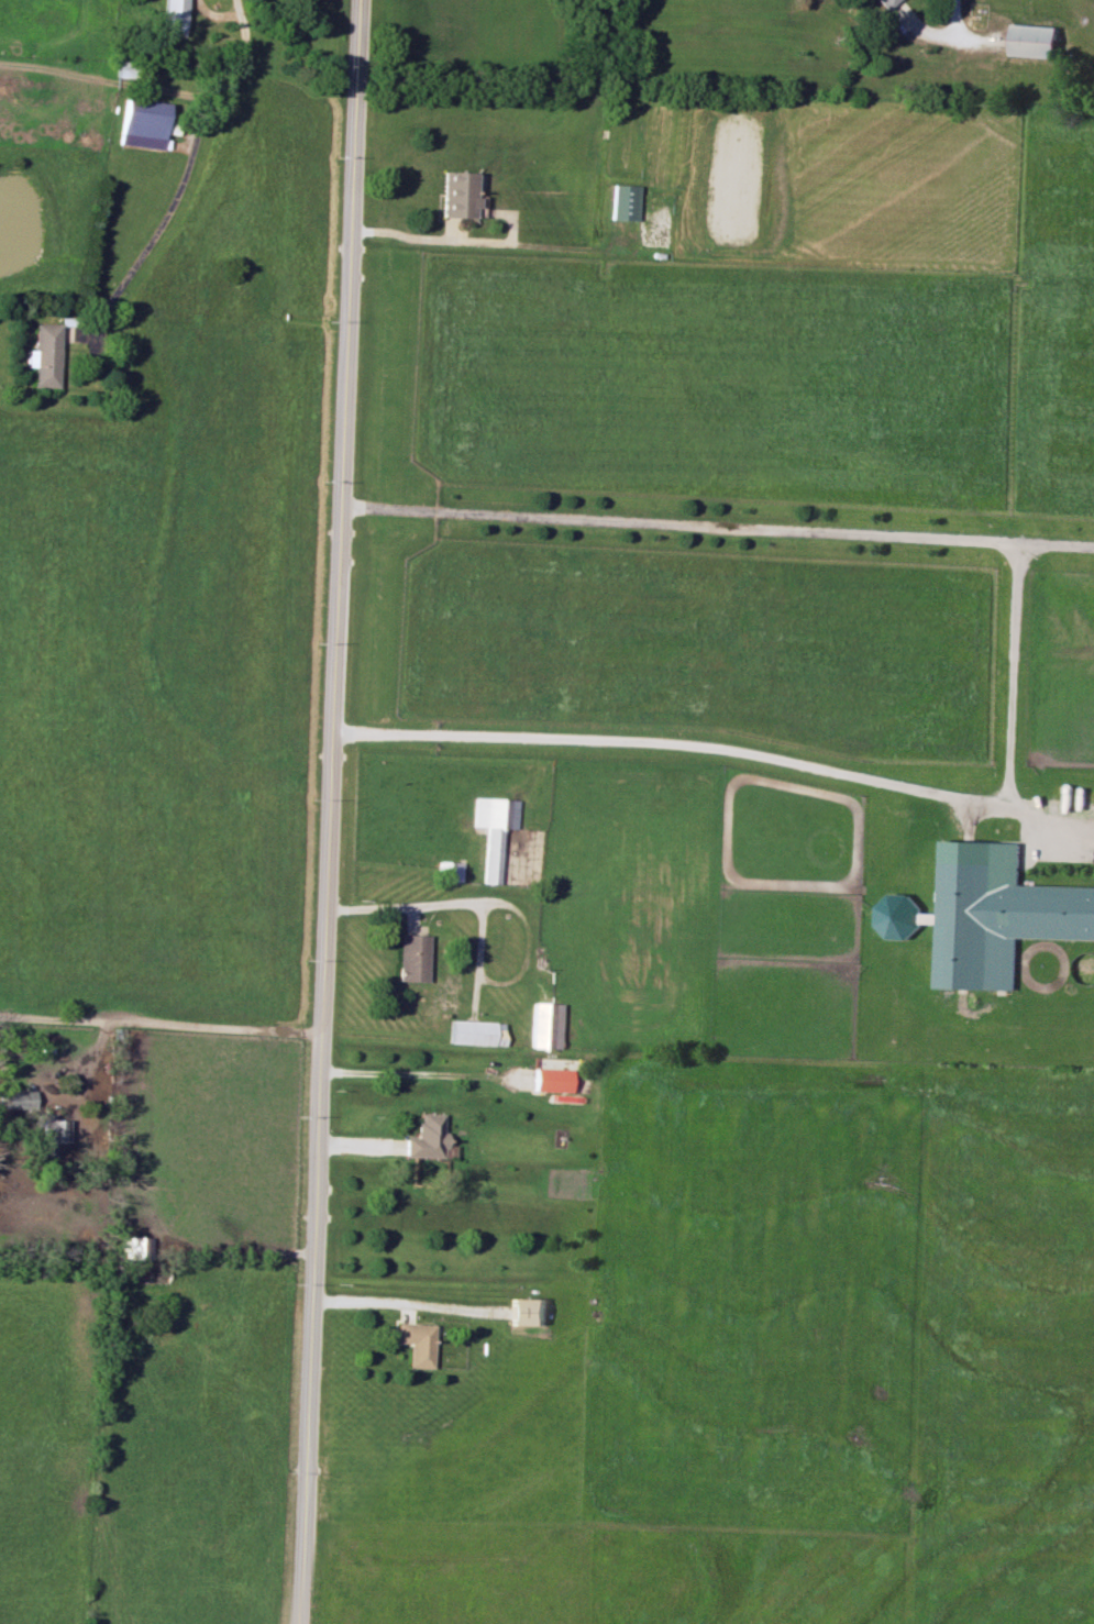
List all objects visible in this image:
building: (896, 9)
road: (214, 15)
building: (174, 16)
road: (953, 20)
road: (941, 37)
building: (1035, 41)
building: (142, 123)
road: (184, 173)
building: (458, 194)
building: (621, 201)
road: (431, 224)
building: (42, 355)
road: (1057, 548)
road: (1014, 676)
road: (1051, 806)
road: (329, 811)
building: (493, 830)
building: (451, 871)
road: (407, 898)
building: (998, 914)
building: (897, 916)
building: (411, 957)
road: (200, 1019)
building: (544, 1025)
building: (476, 1032)
road: (418, 1074)
building: (551, 1080)
building: (15, 1098)
building: (49, 1133)
building: (427, 1137)
building: (134, 1247)
road: (397, 1295)
building: (528, 1312)
building: (416, 1343)

